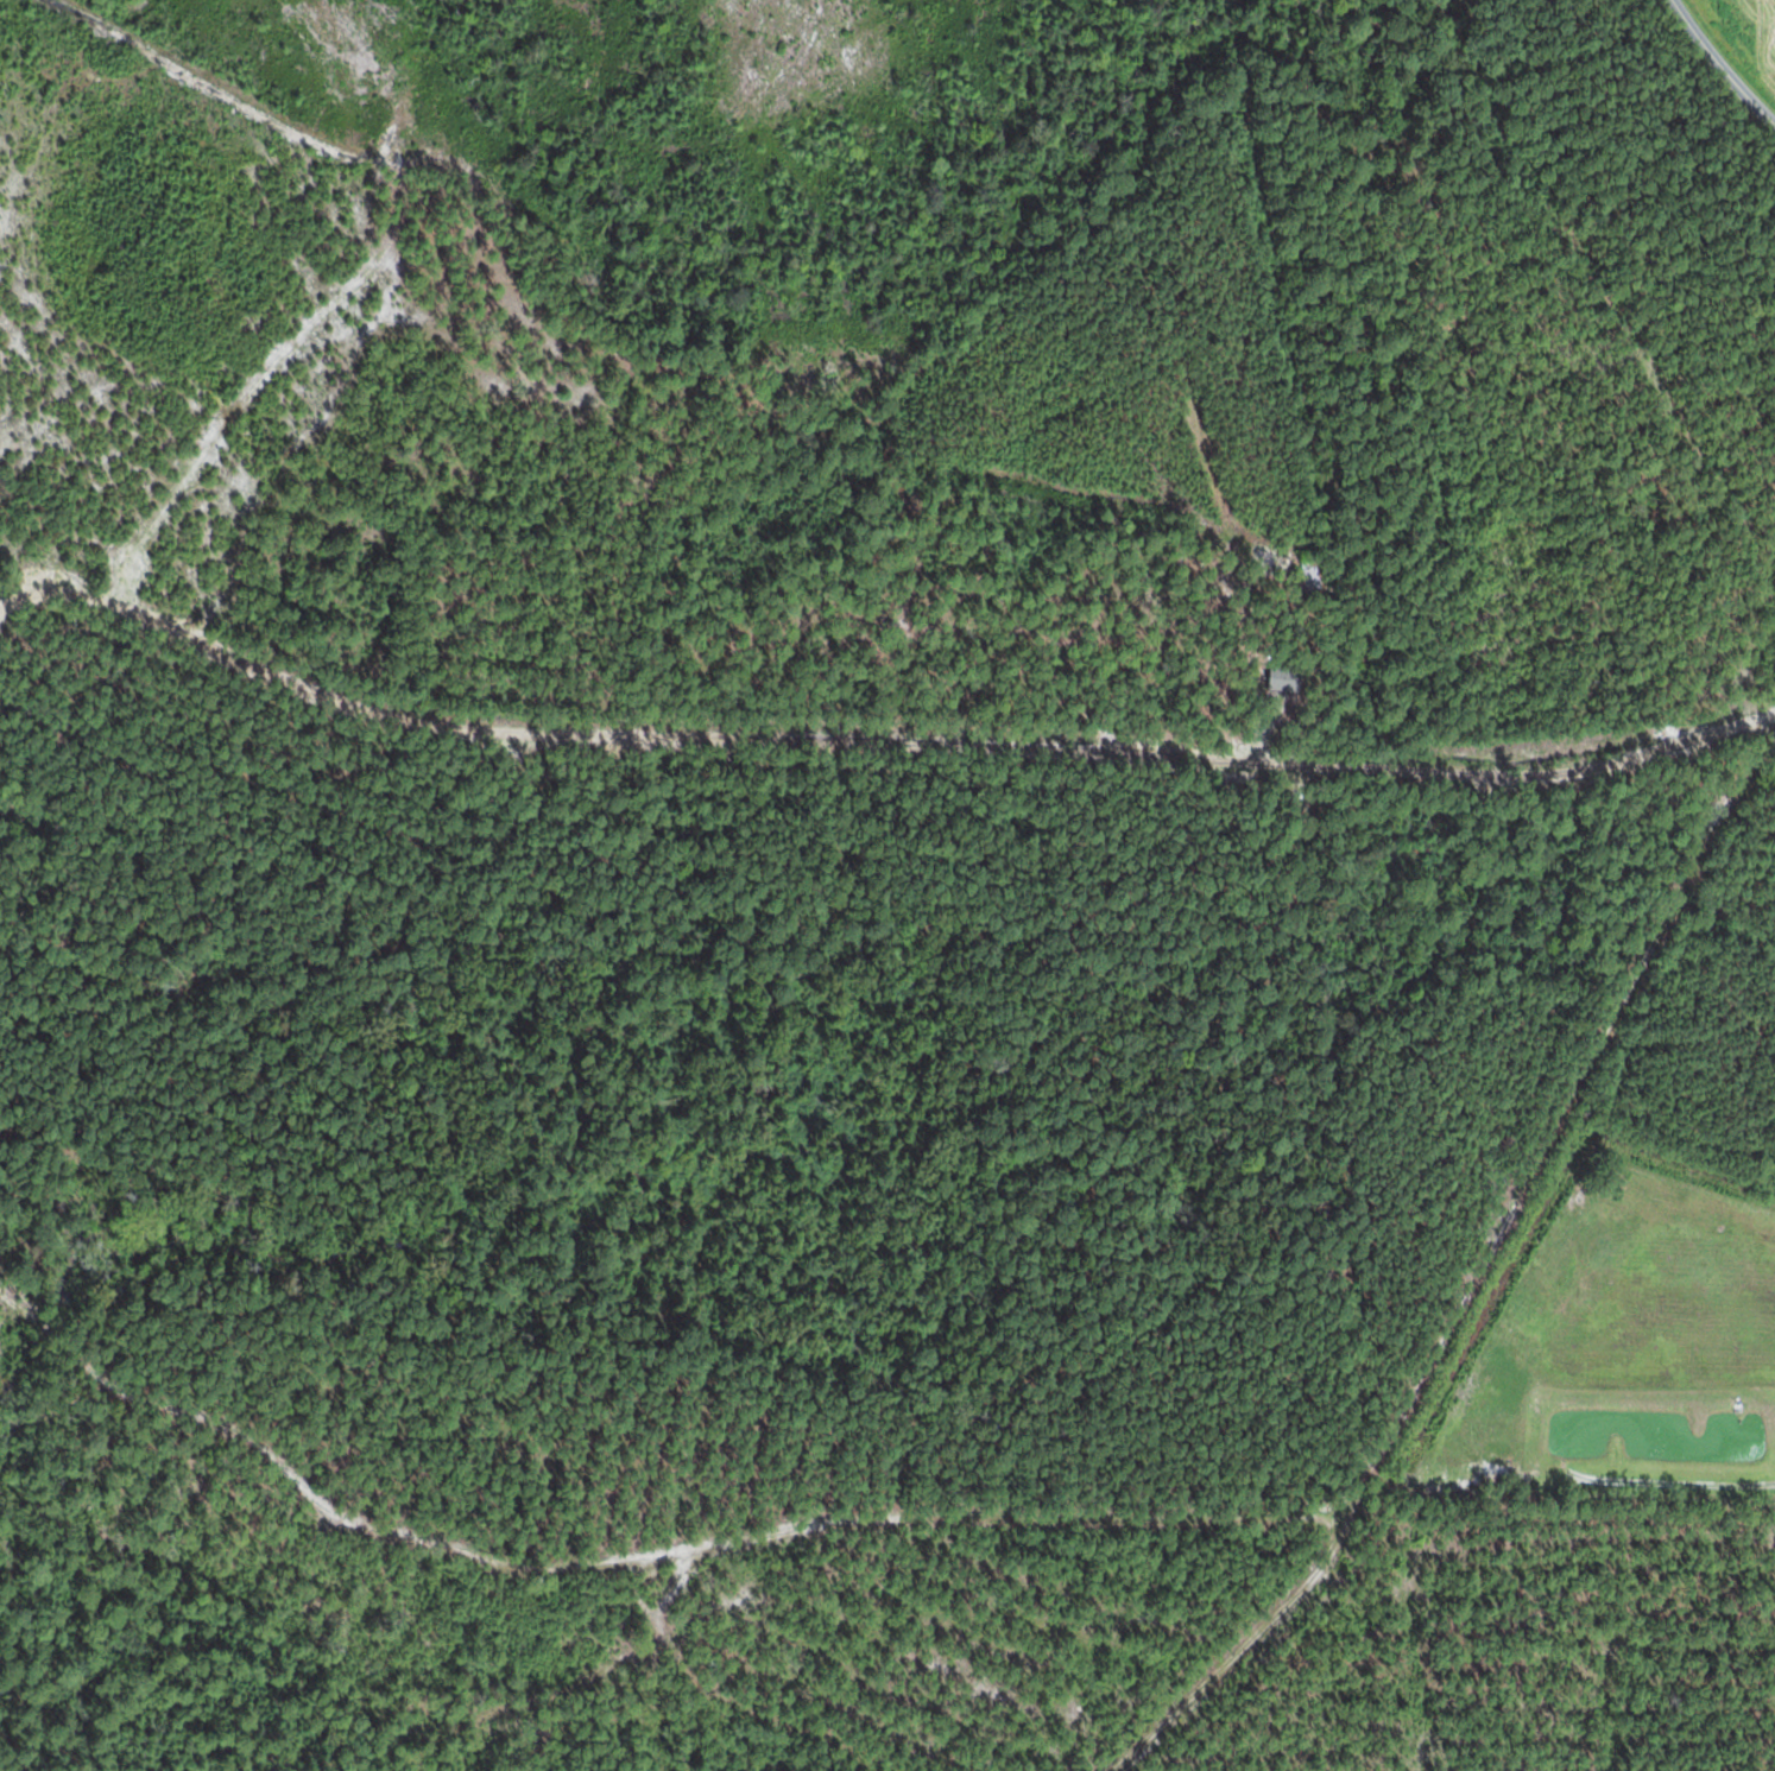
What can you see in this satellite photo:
road: (1722, 64)
building: (1308, 575)
building: (1284, 678)
road: (847, 1525)

